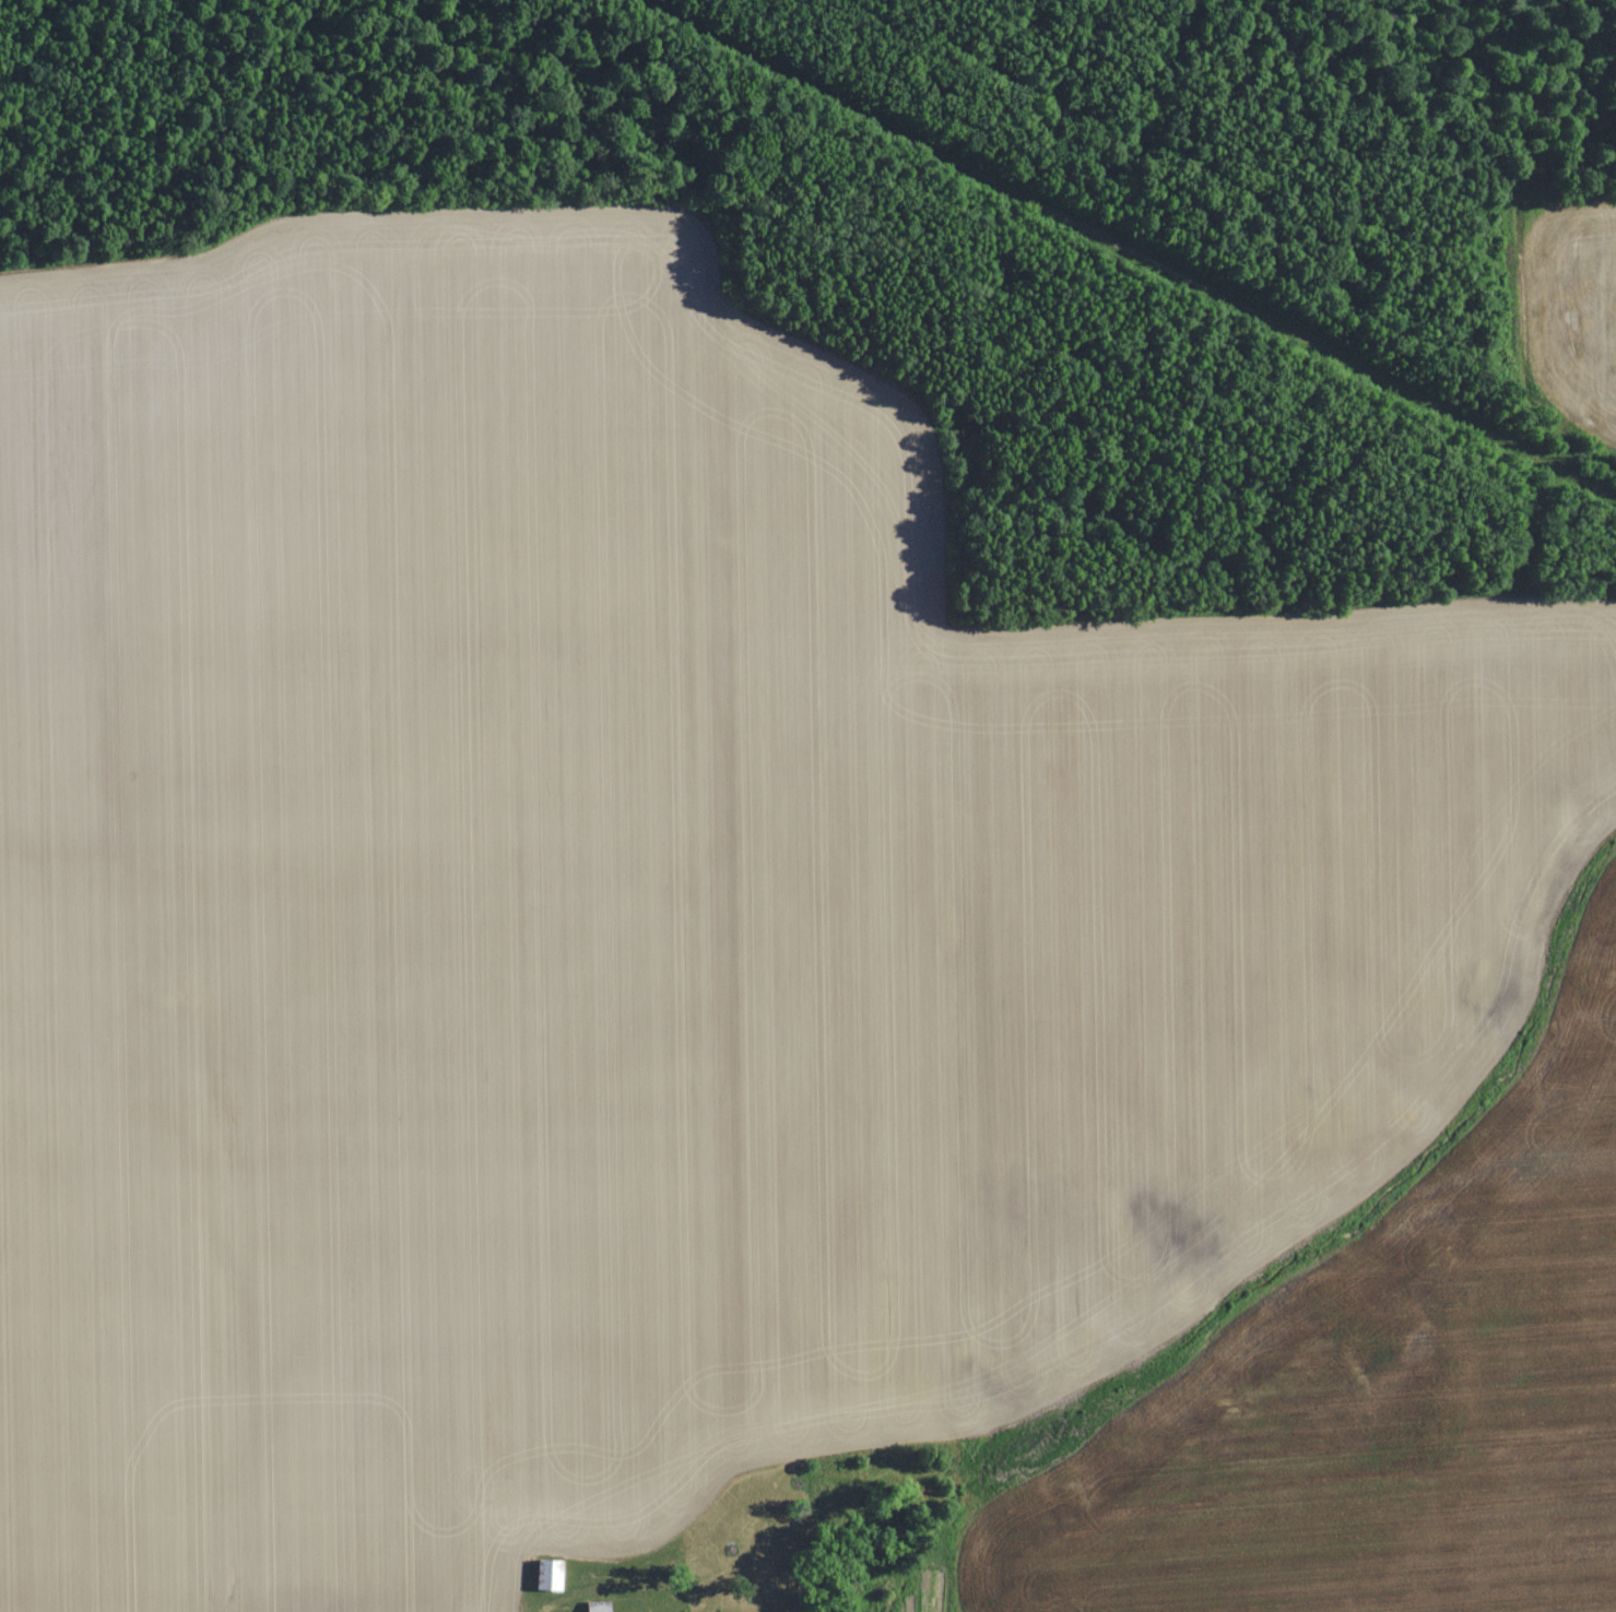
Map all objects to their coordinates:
road: (521, 1590)

